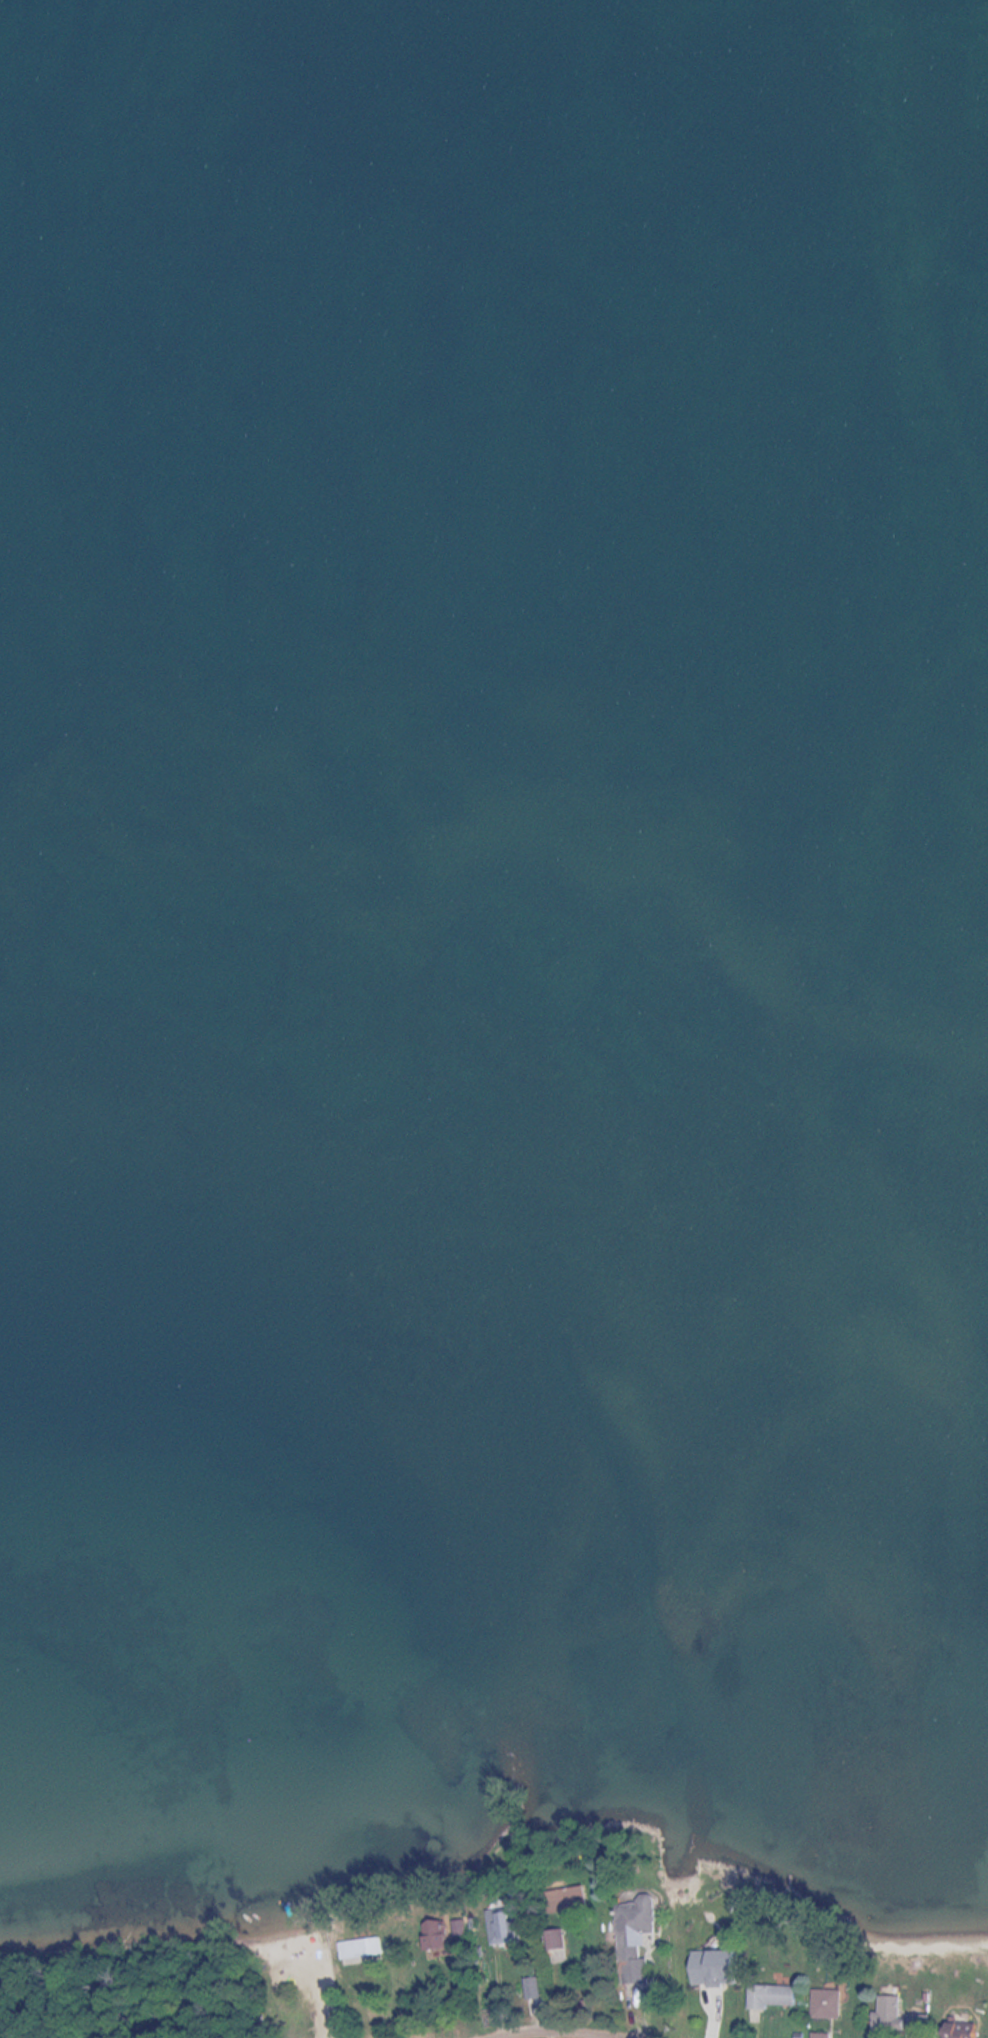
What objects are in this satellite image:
building: (569, 1901)
building: (508, 1927)
building: (441, 1937)
building: (640, 1938)
building: (557, 1941)
building: (362, 1951)
building: (722, 1969)
building: (776, 1998)
building: (831, 2005)
building: (895, 2015)
road: (558, 2025)
building: (924, 2026)
building: (968, 2030)
building: (825, 2036)

